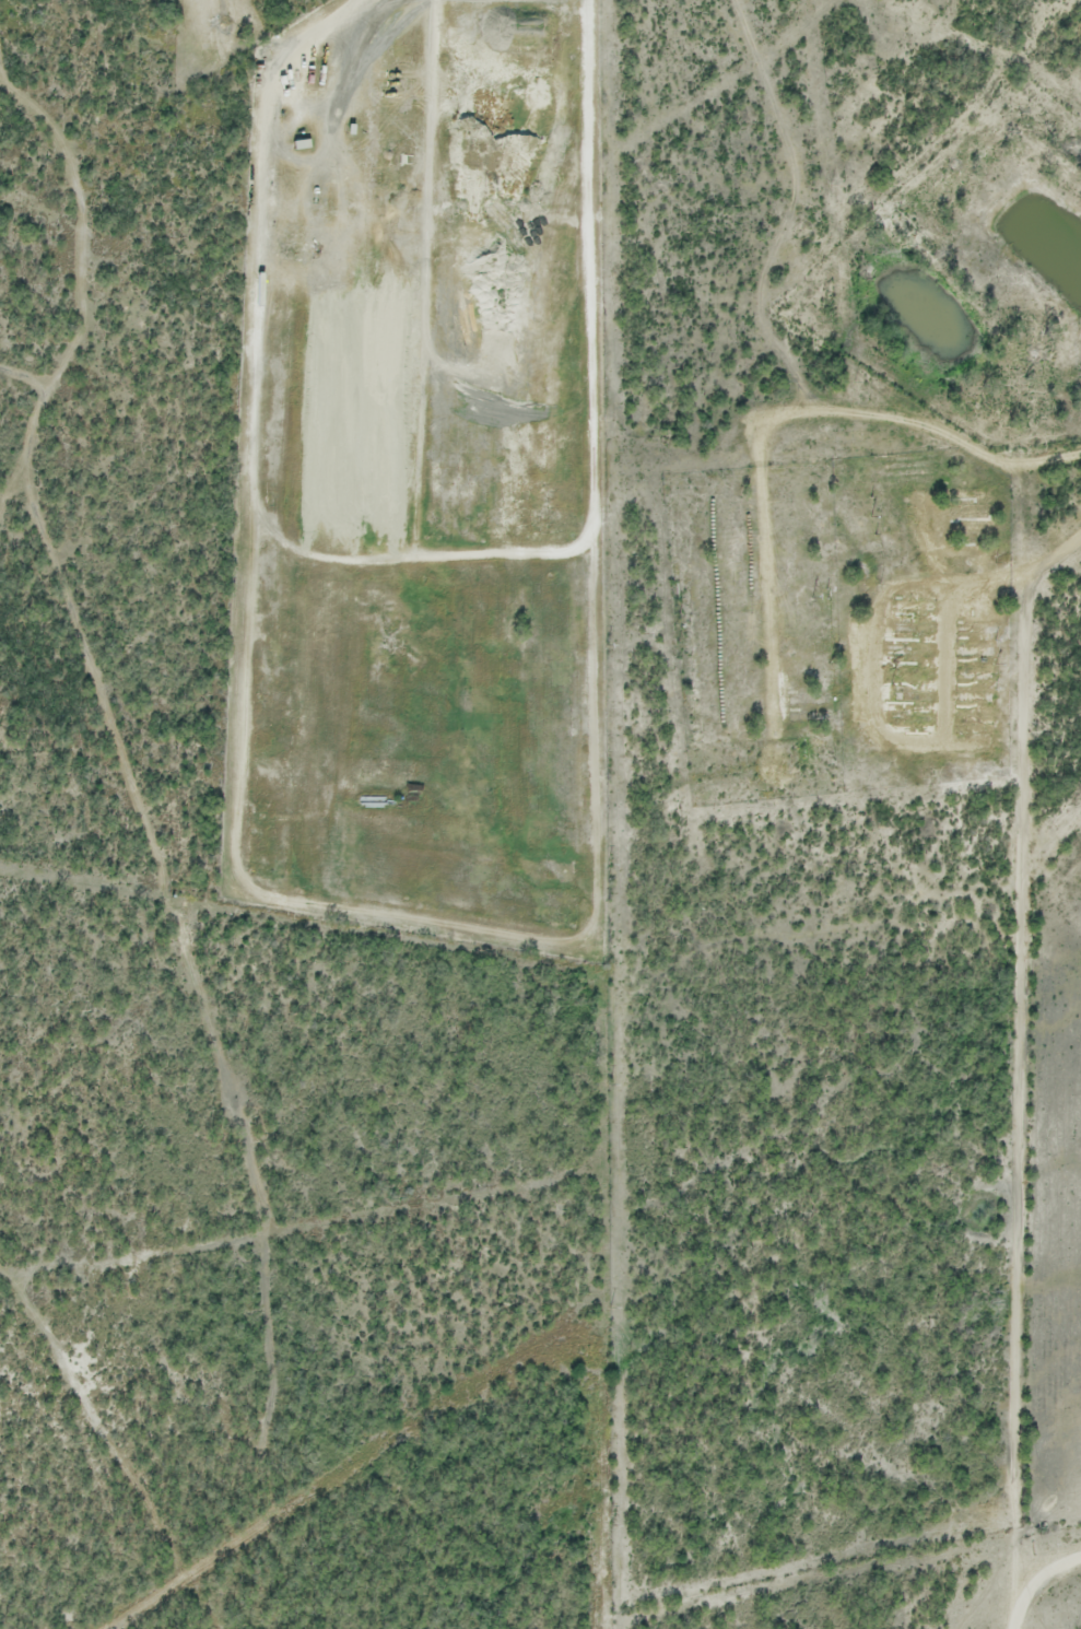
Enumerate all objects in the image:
building: (200, 4)
road: (483, 245)
road: (244, 607)
road: (613, 813)

